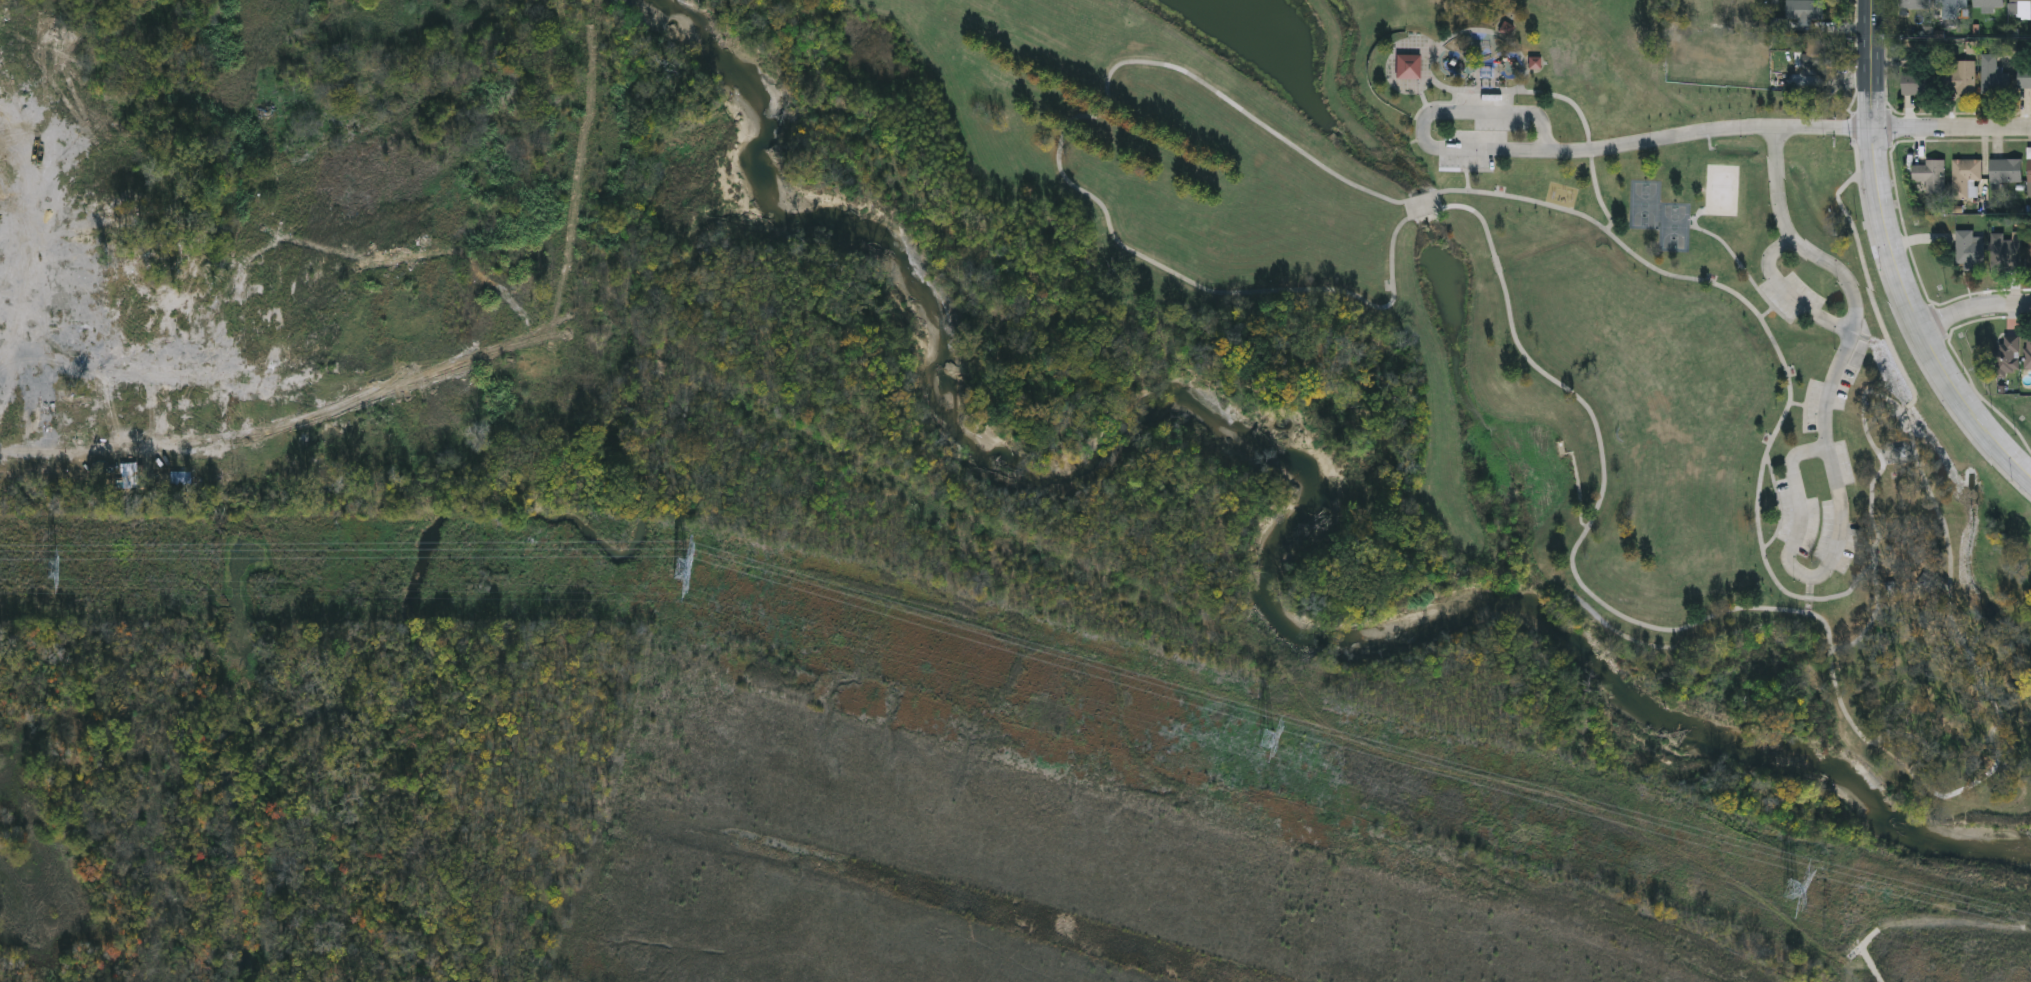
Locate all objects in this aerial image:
building: (2020, 1)
building: (1988, 3)
building: (1914, 5)
building: (1951, 8)
building: (1804, 9)
building: (1409, 66)
building: (1992, 76)
building: (1958, 78)
building: (2024, 78)
building: (1917, 84)
road: (1951, 128)
road: (1562, 150)
building: (2005, 171)
building: (1930, 175)
building: (2029, 176)
building: (1965, 179)
park: (1656, 209)
park: (1686, 232)
building: (1969, 251)
building: (2016, 256)
road: (1896, 257)
road: (1656, 269)
road: (1792, 294)
road: (1973, 306)
building: (2028, 354)
building: (2006, 356)
park: (1361, 400)
road: (1828, 429)
building: (133, 440)
road: (1604, 460)
power tower: (679, 566)
power tower: (52, 567)
power tower: (1267, 737)
power tower: (1790, 887)

